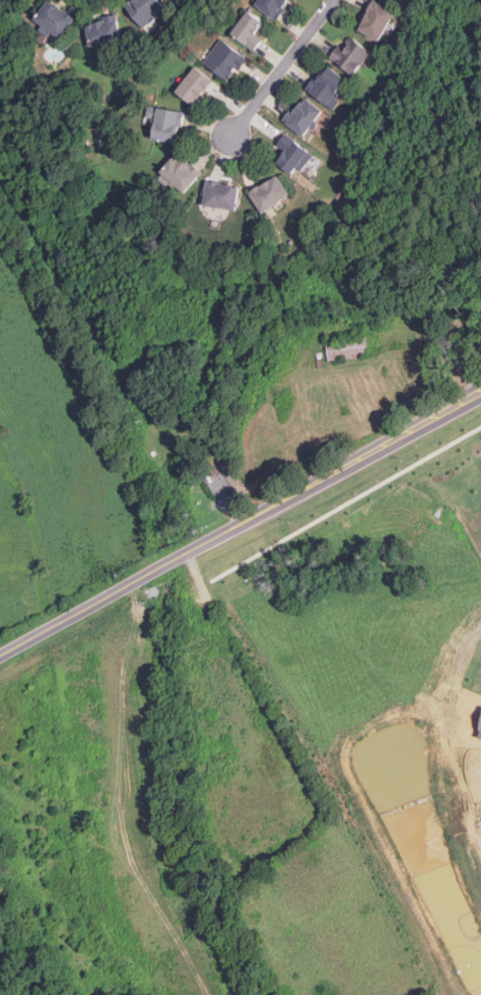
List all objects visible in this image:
building: (274, 7)
building: (148, 10)
building: (54, 21)
building: (379, 21)
building: (203, 22)
building: (251, 29)
building: (106, 31)
building: (352, 56)
building: (227, 59)
road: (283, 67)
building: (194, 85)
building: (329, 85)
building: (305, 116)
building: (170, 124)
building: (293, 154)
building: (183, 171)
building: (272, 193)
building: (224, 195)
building: (480, 324)
building: (338, 328)
building: (349, 349)
building: (229, 478)
road: (240, 521)

